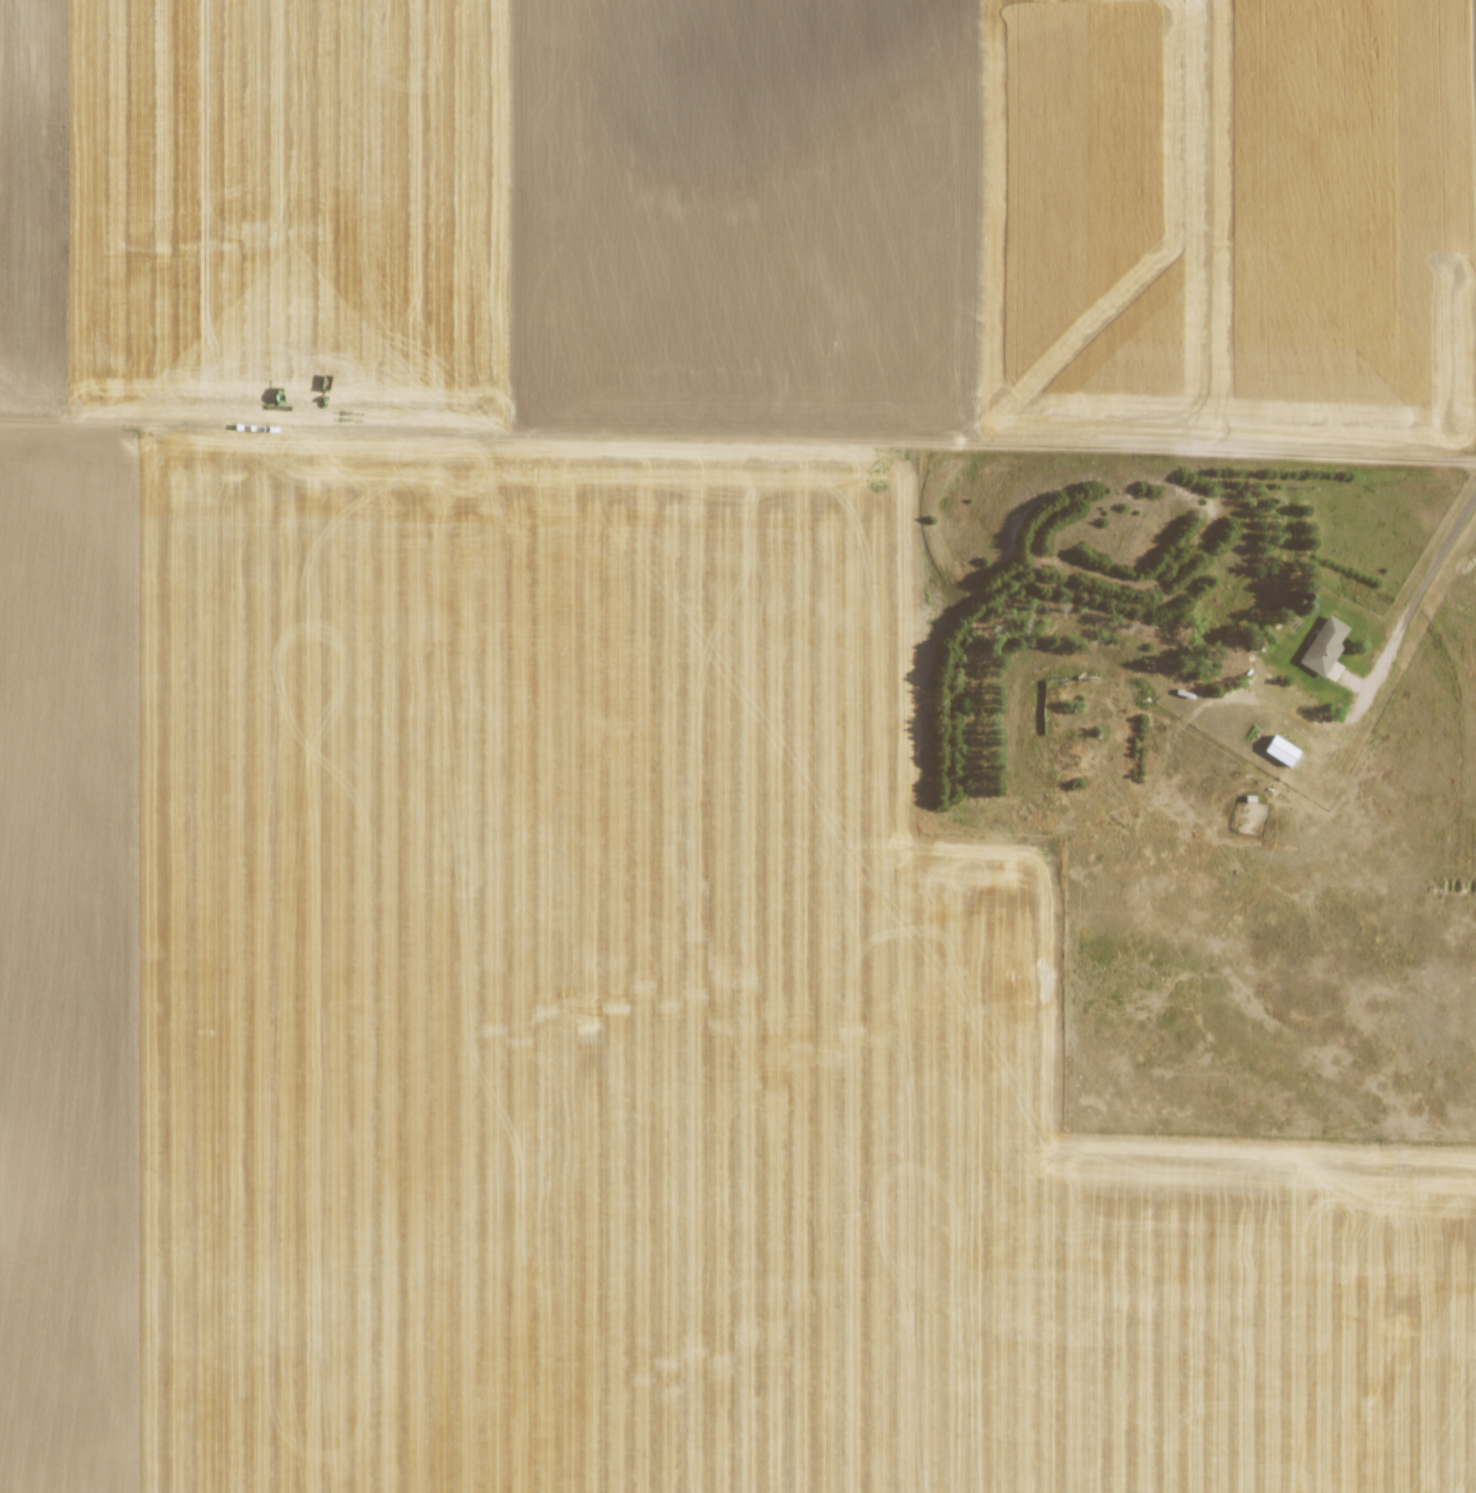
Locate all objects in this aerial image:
road: (738, 465)
road: (1412, 601)
building: (1324, 645)
building: (1281, 750)

